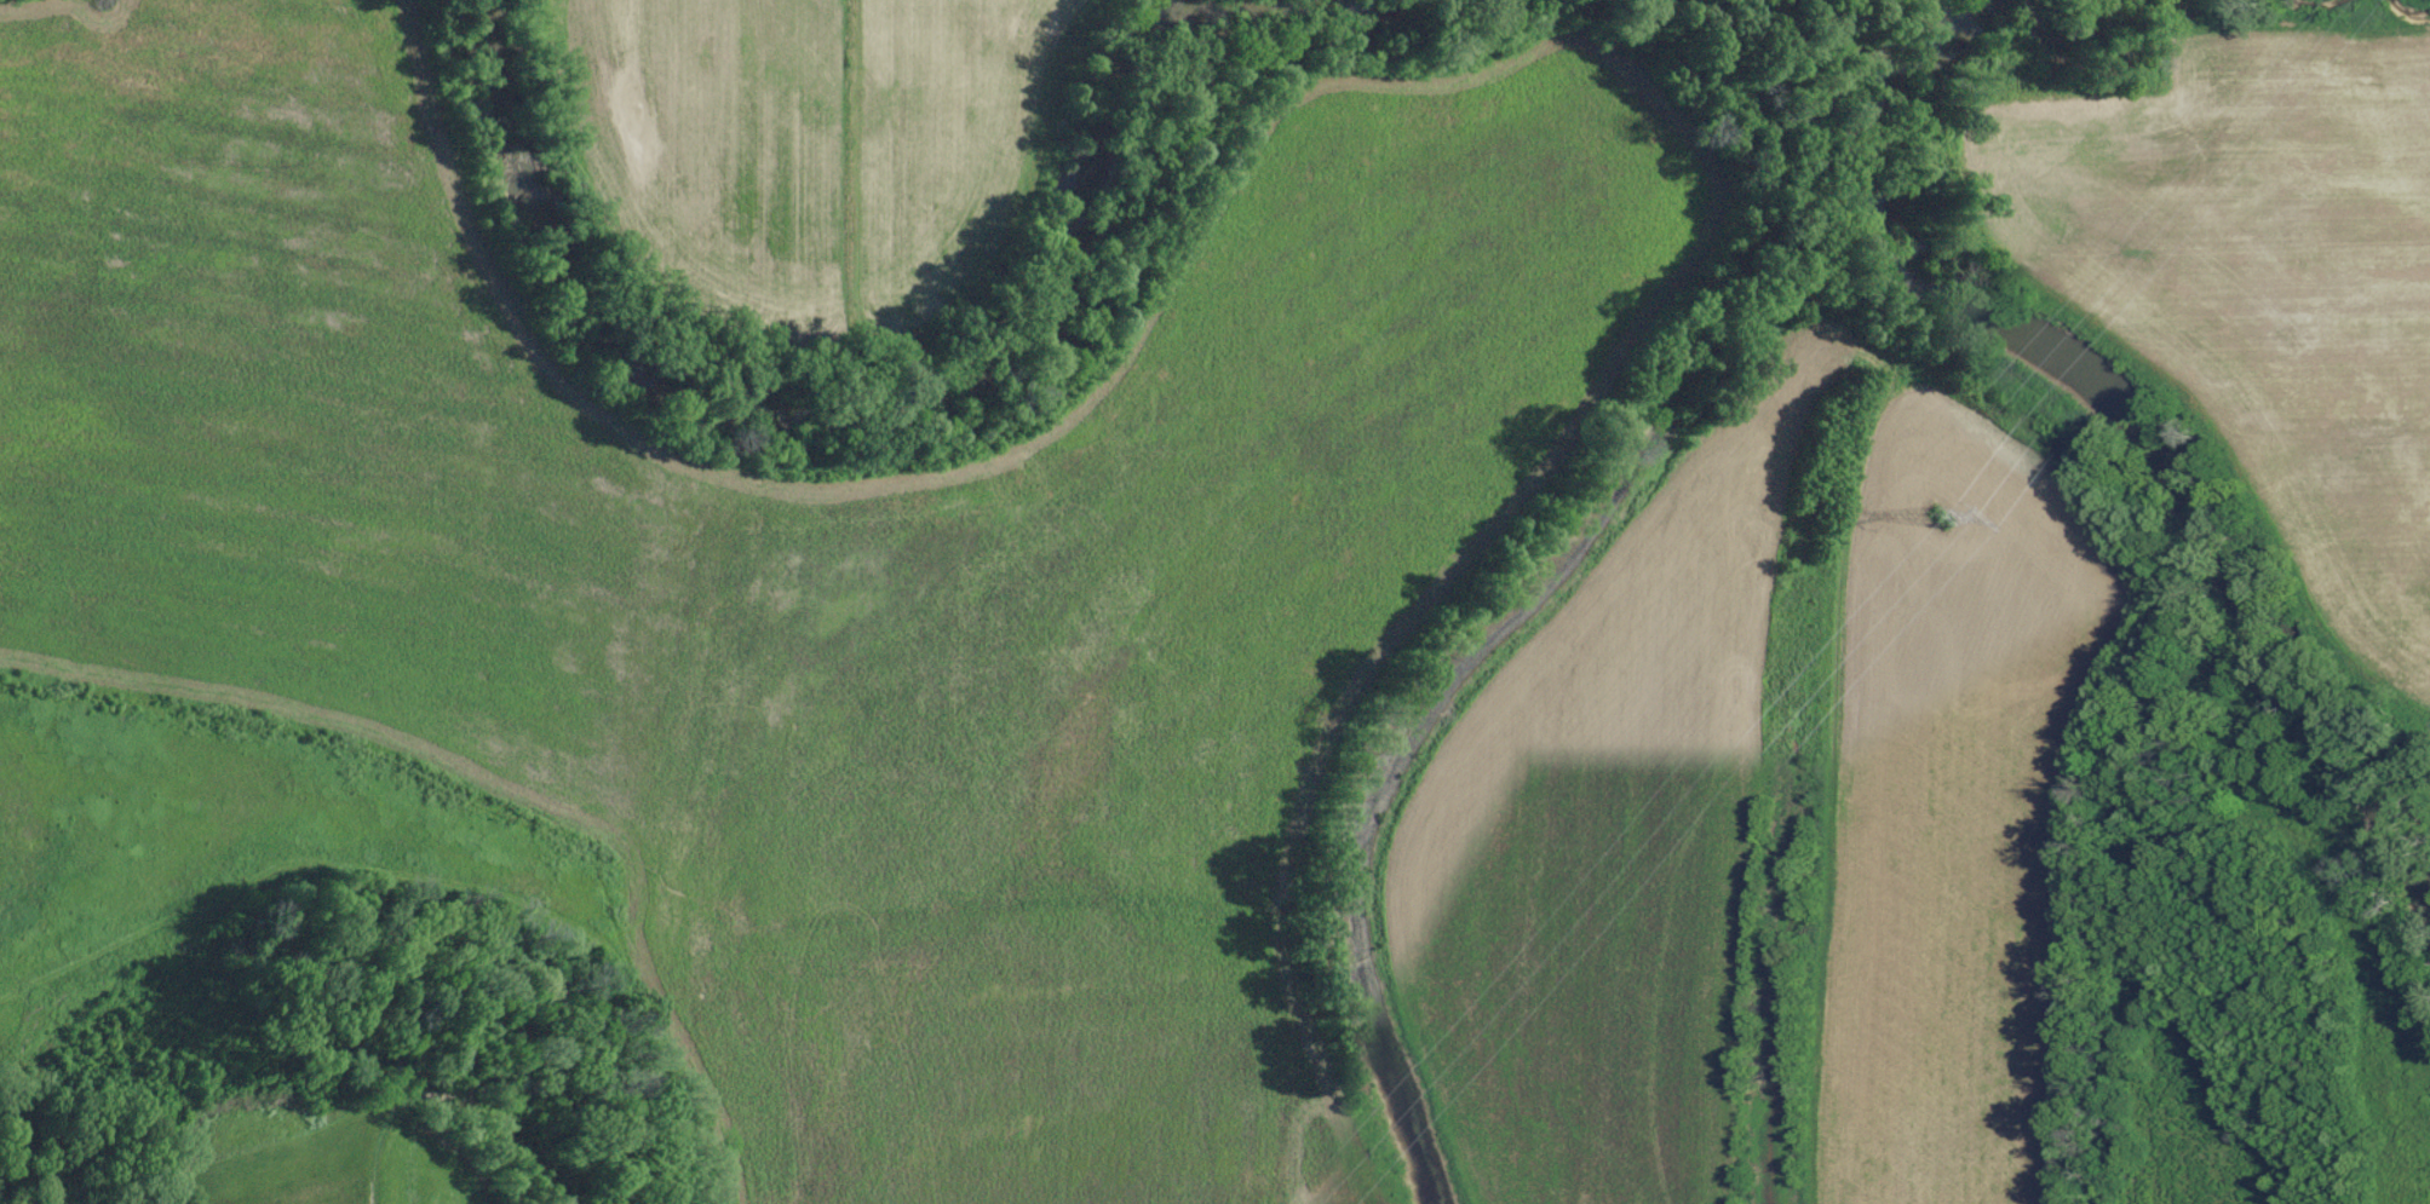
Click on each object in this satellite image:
river: (828, 397)
river: (2129, 402)
power tower: (1941, 518)

